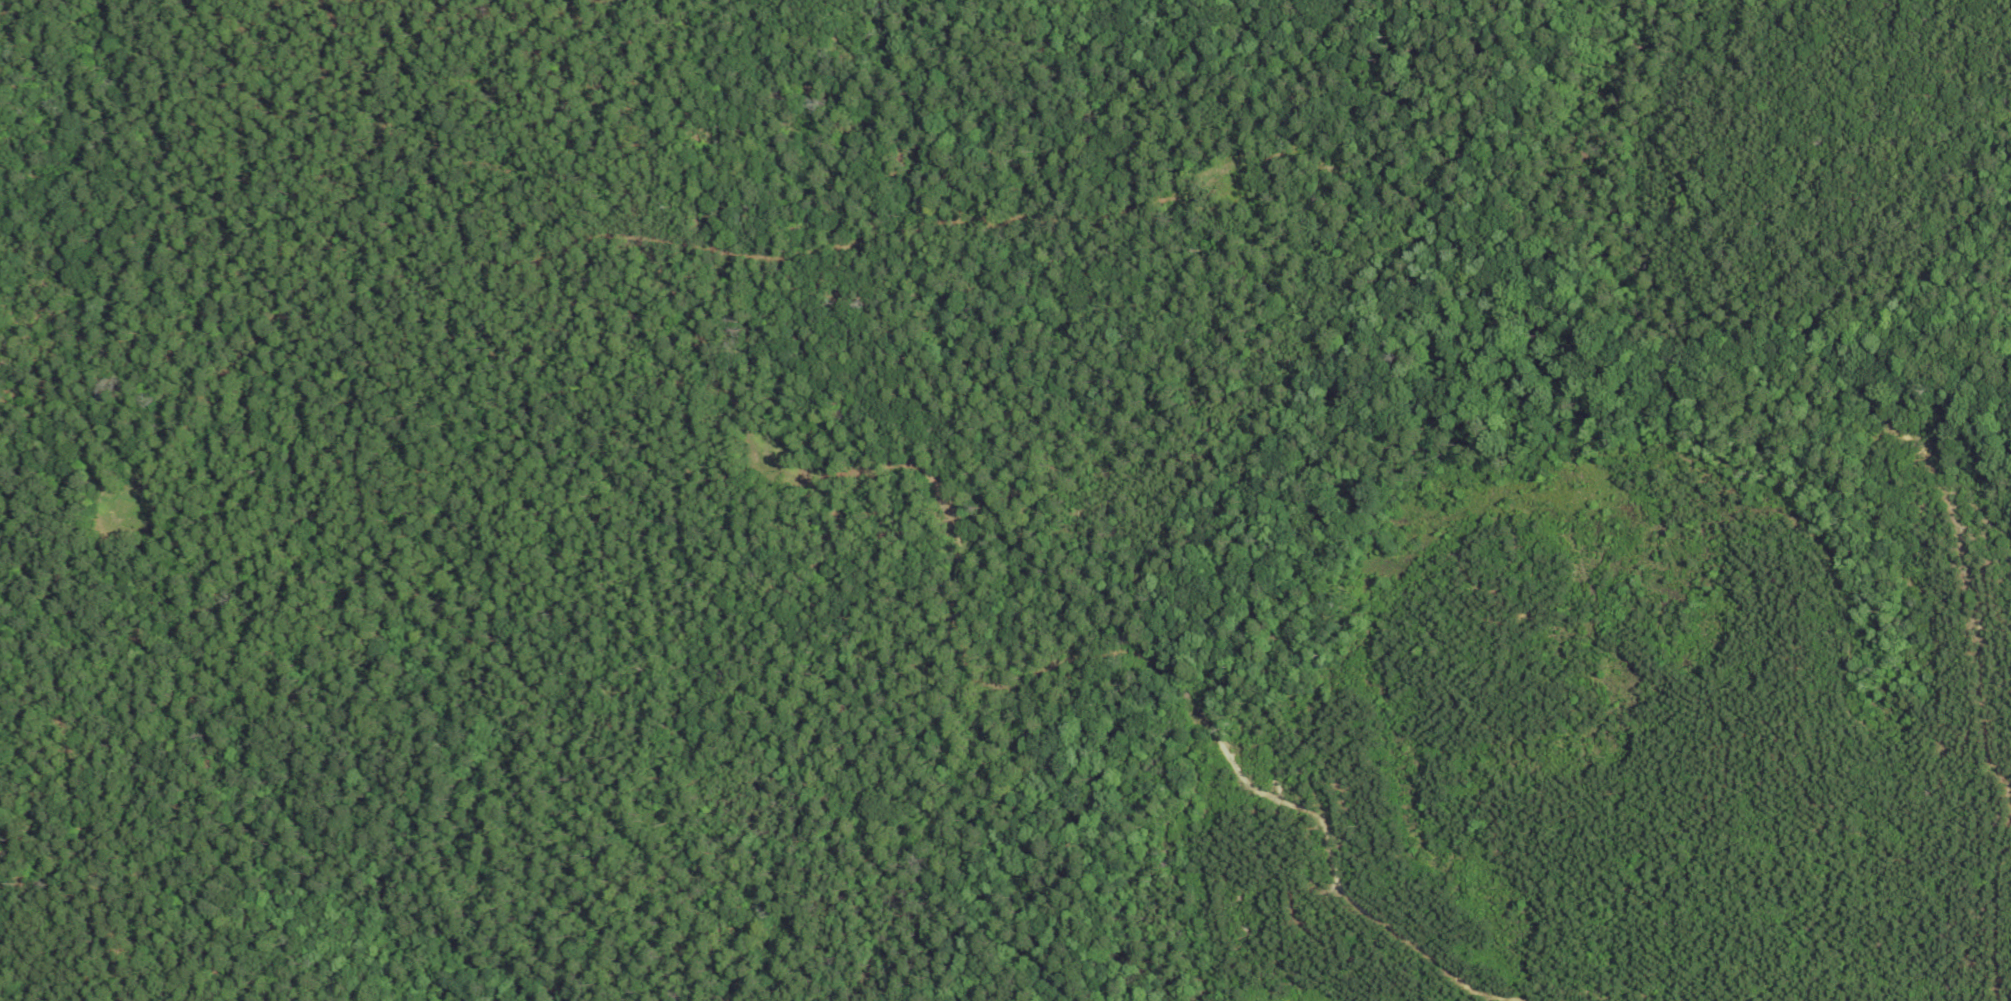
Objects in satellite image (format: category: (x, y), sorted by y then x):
road: (300, 738)

